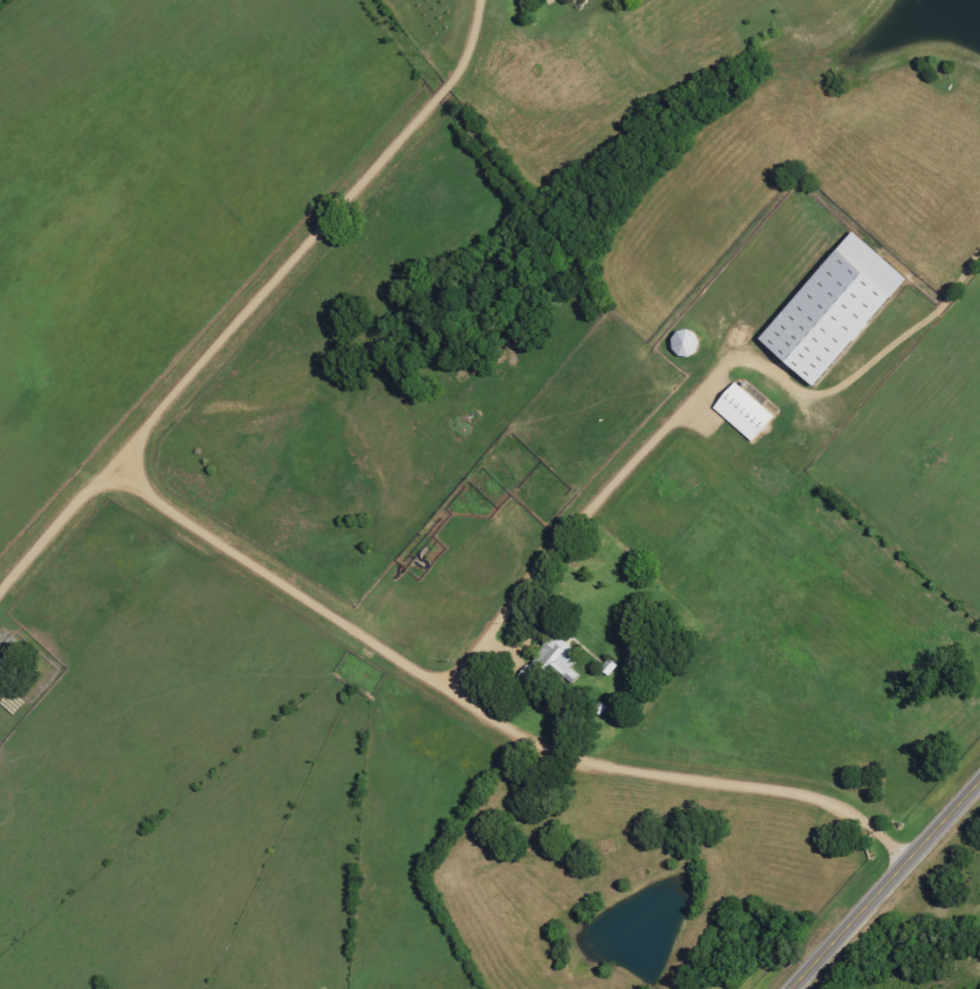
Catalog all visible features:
building: (840, 309)
building: (690, 343)
building: (748, 414)
building: (557, 663)
road: (427, 670)
road: (888, 889)

